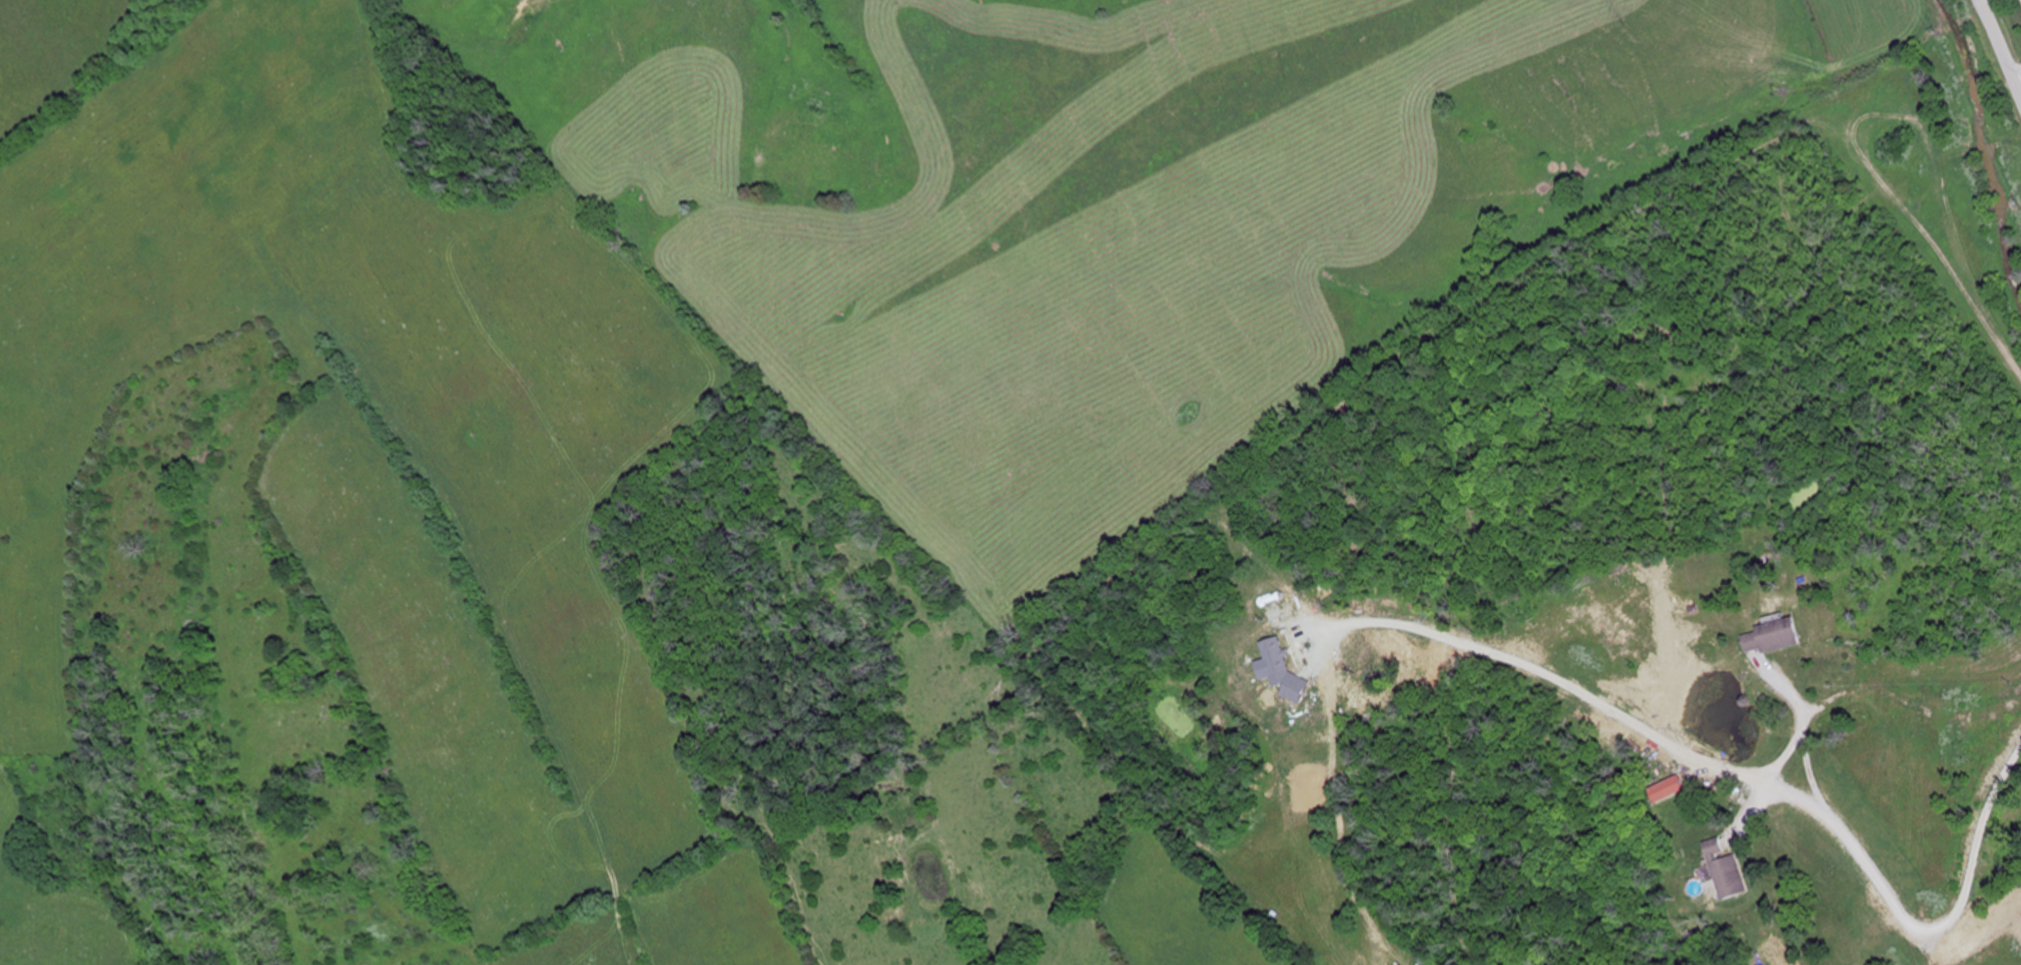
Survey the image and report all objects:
road: (2000, 48)
road: (2018, 81)
building: (1771, 637)
building: (1665, 788)
building: (1725, 871)

